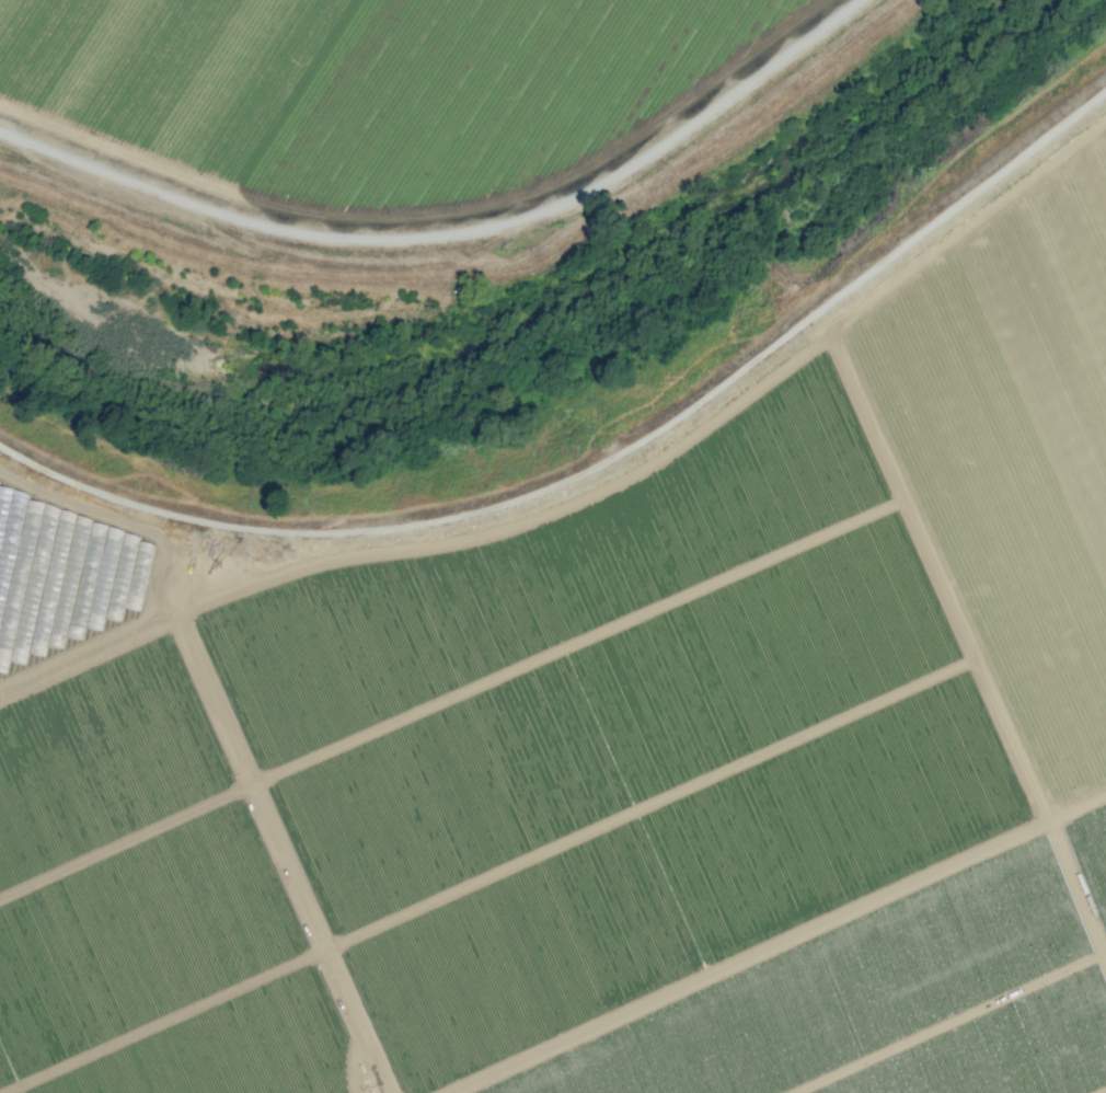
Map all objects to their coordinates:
river: (579, 379)
building: (61, 572)
crop: (113, 620)
crop: (679, 810)

